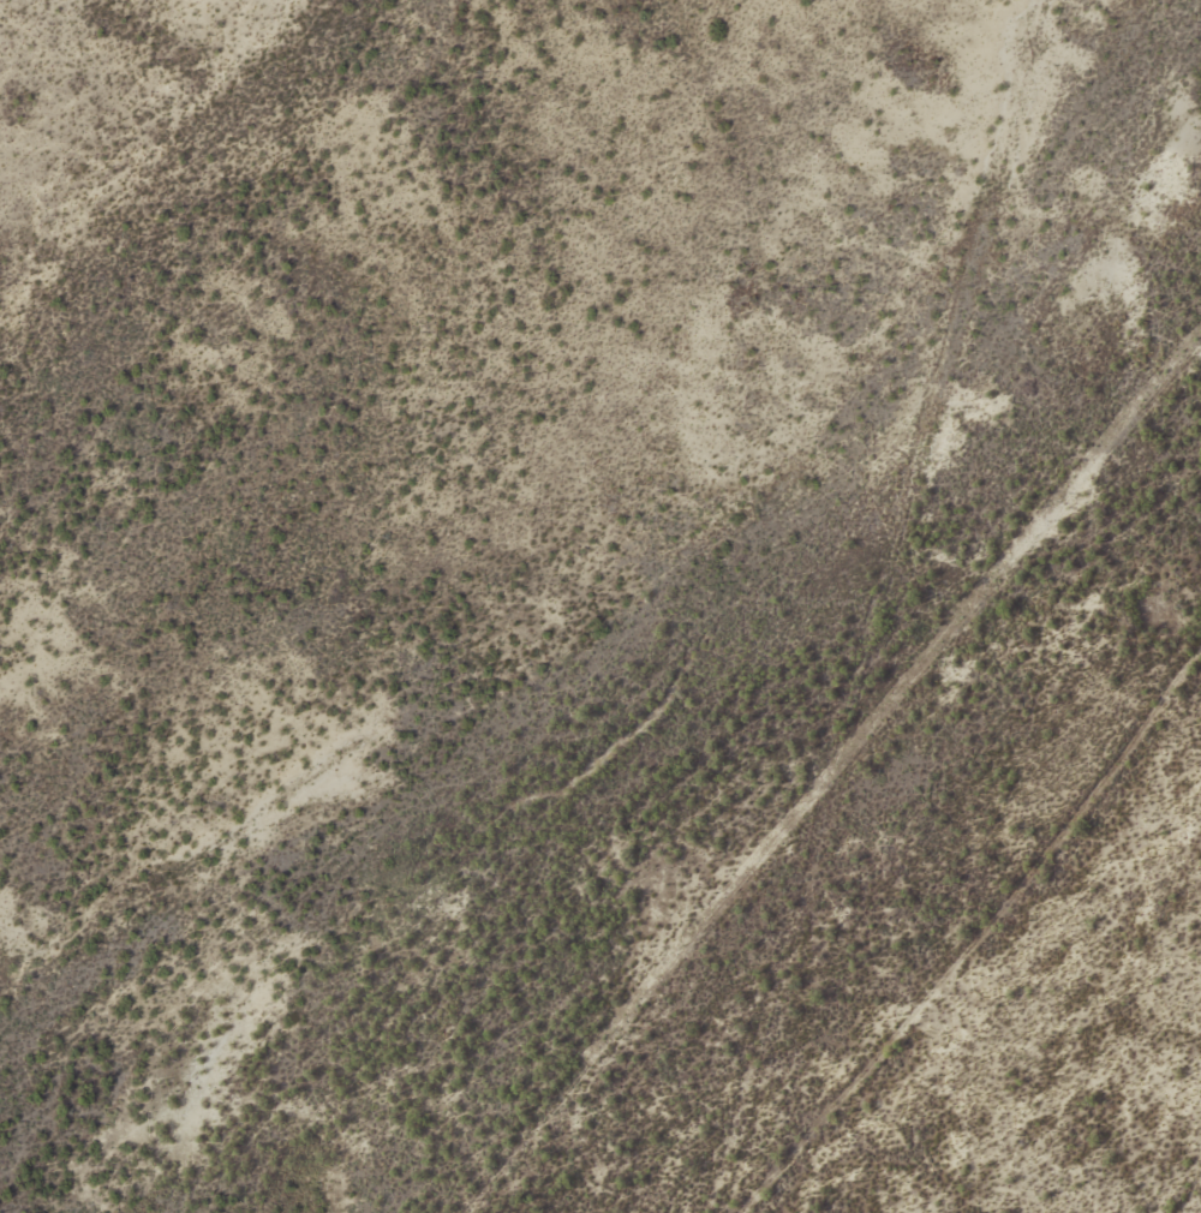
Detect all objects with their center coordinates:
road: (981, 938)

